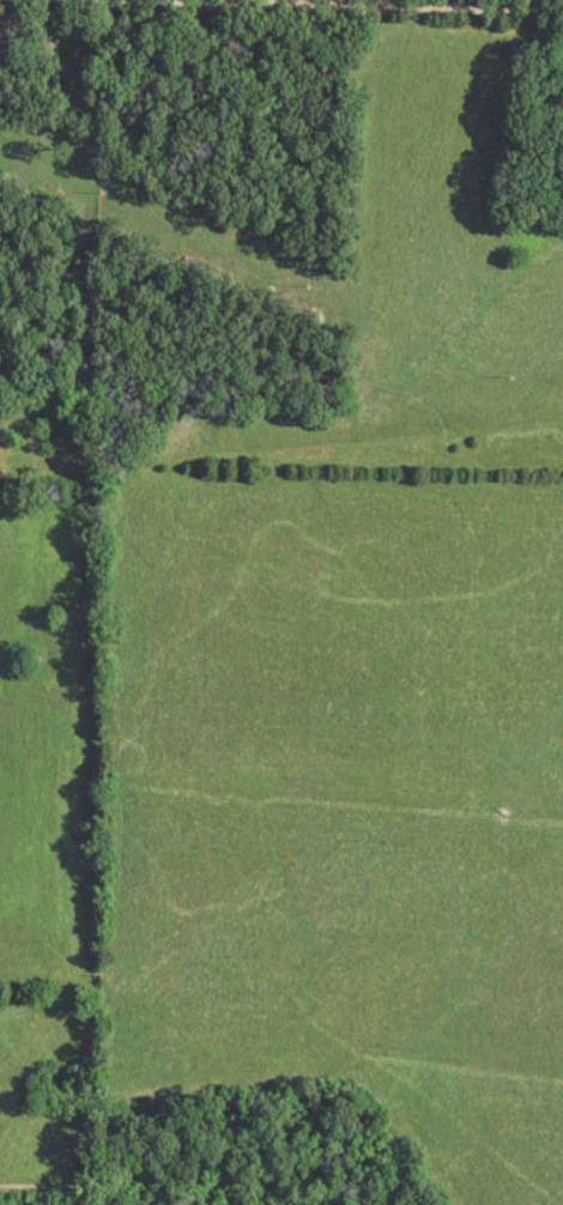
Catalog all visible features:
road: (328, 6)
road: (228, 1106)

